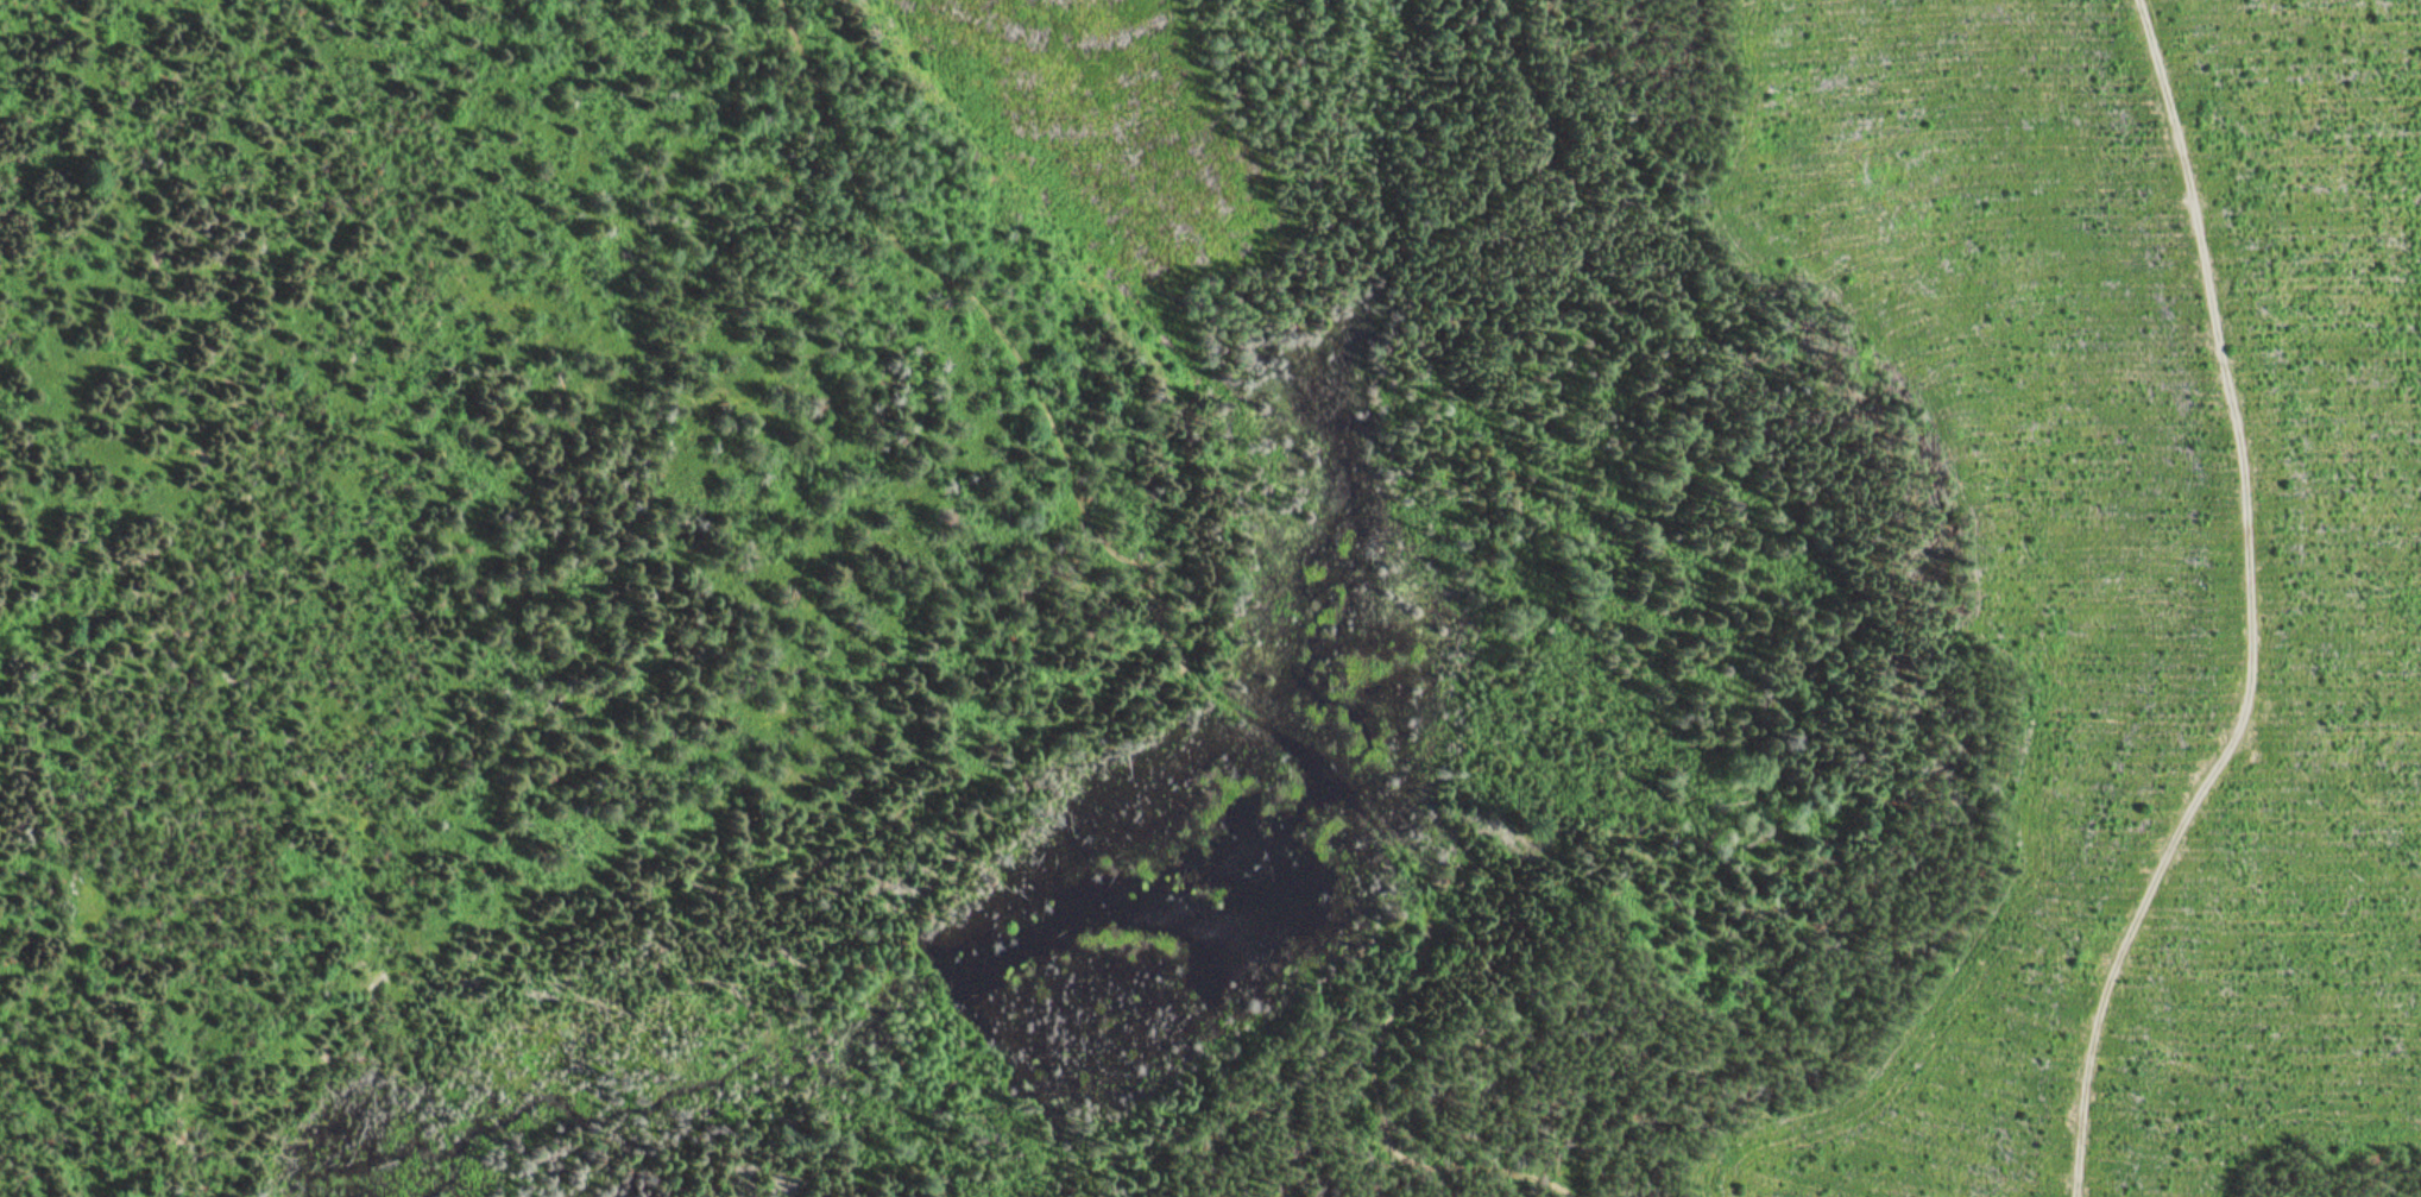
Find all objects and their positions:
road: (2252, 610)
road: (1184, 657)

